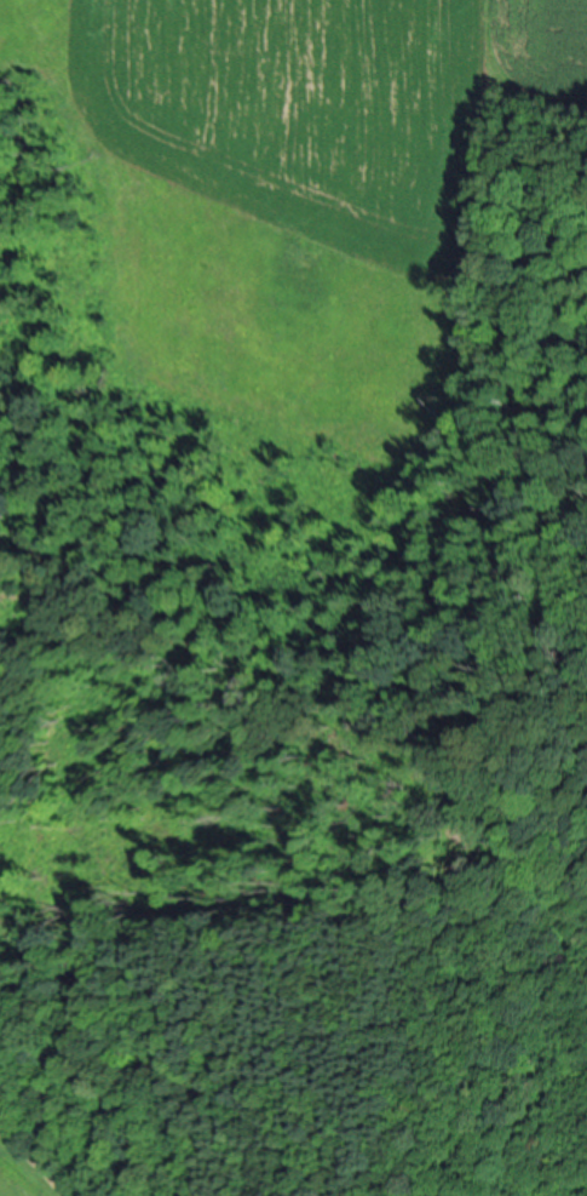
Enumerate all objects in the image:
crop: (336, 103)
road: (39, 1161)
crop: (25, 1173)

